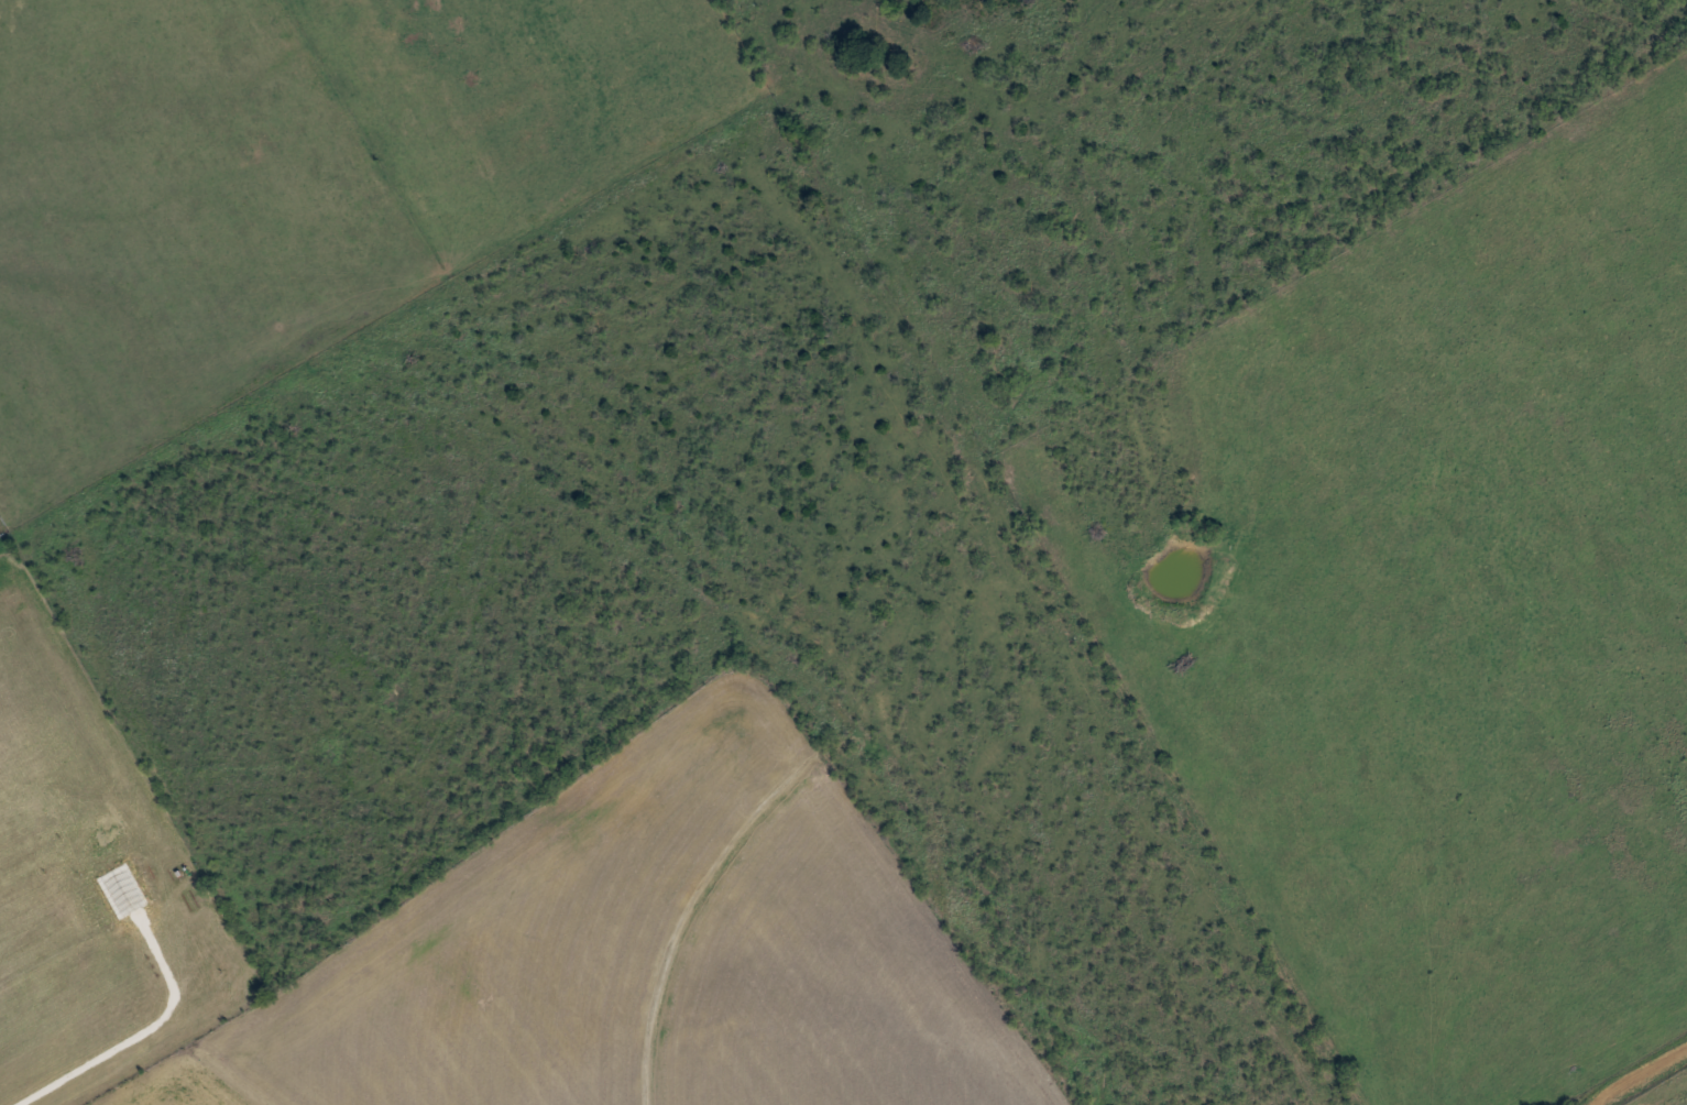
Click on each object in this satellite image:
road: (1632, 1064)

